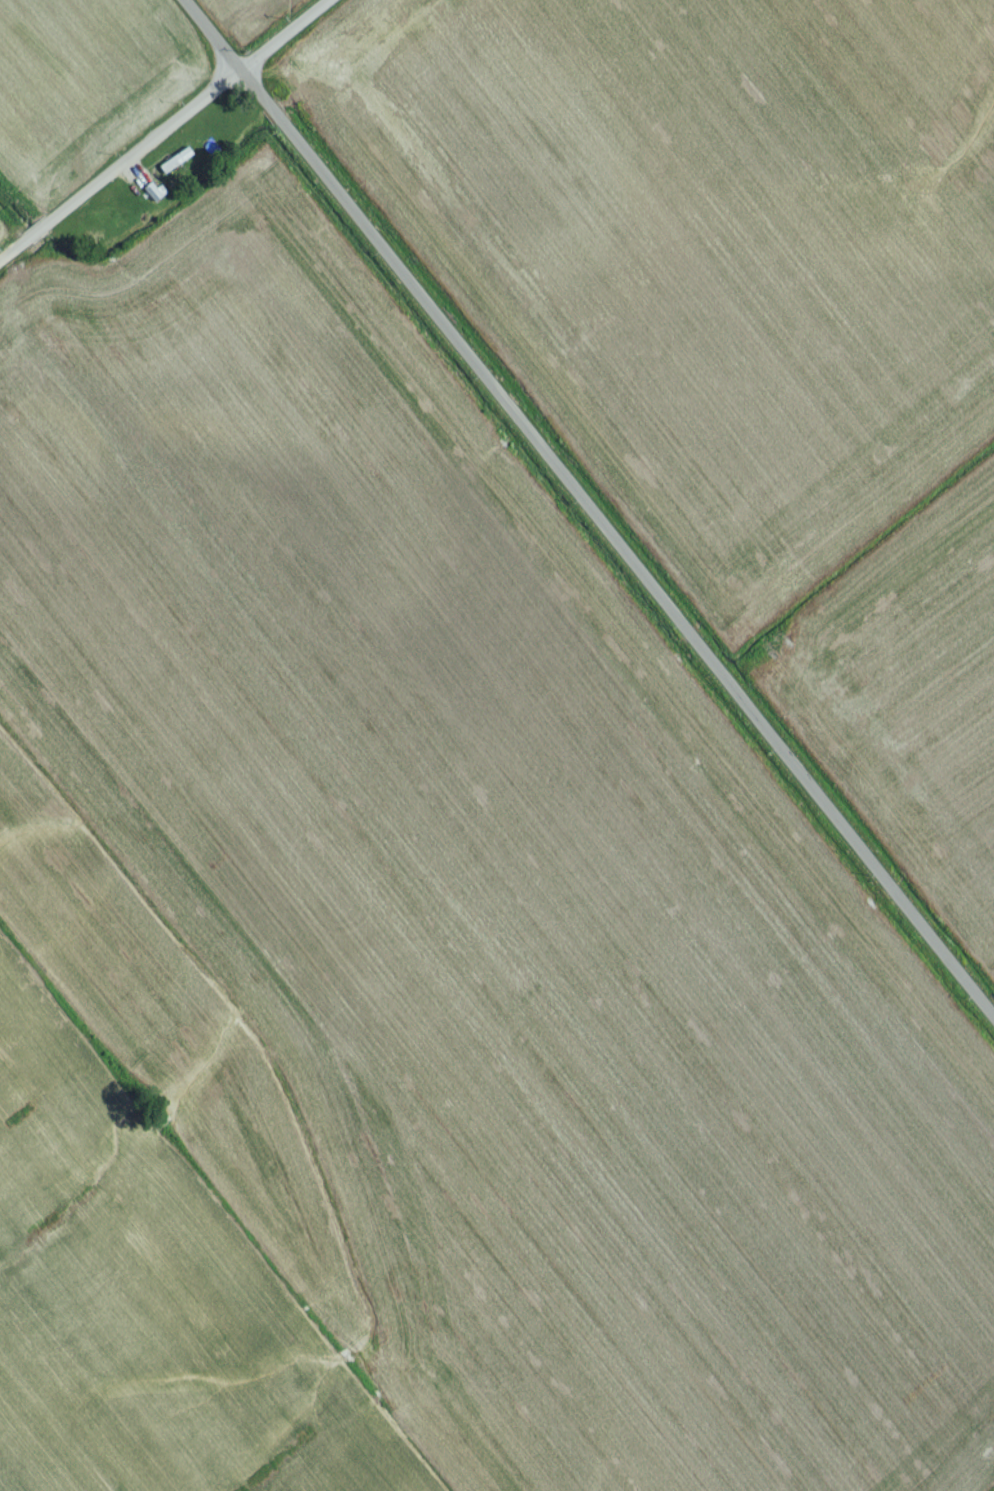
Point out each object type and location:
road: (168, 134)
building: (170, 167)
road: (582, 512)

